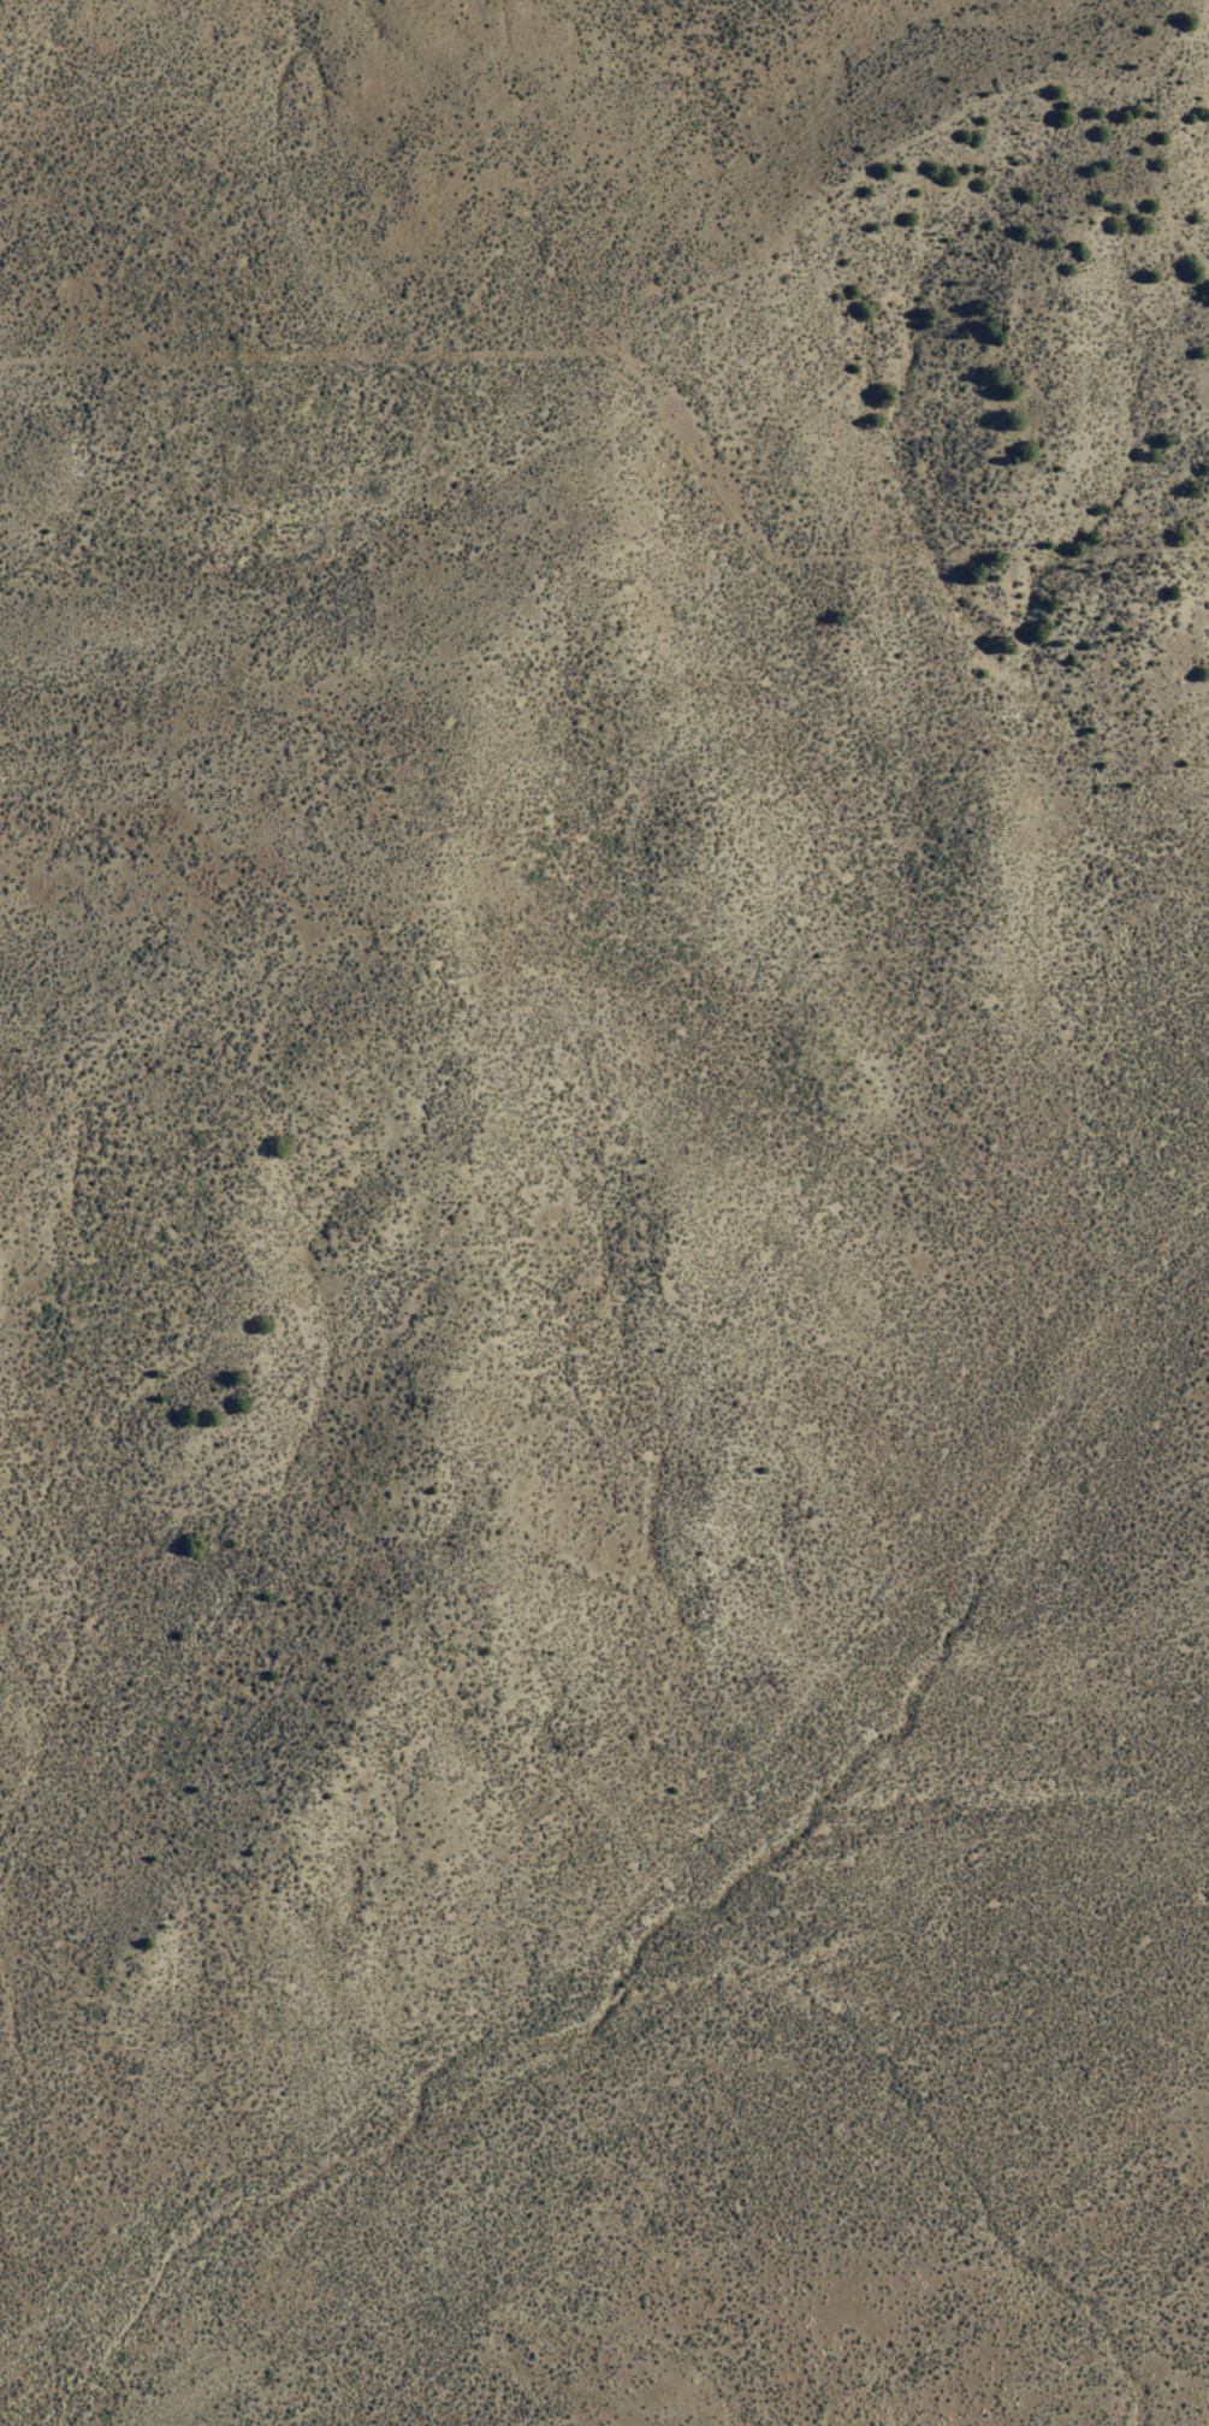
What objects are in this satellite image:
road: (635, 392)
crop: (725, 2208)

